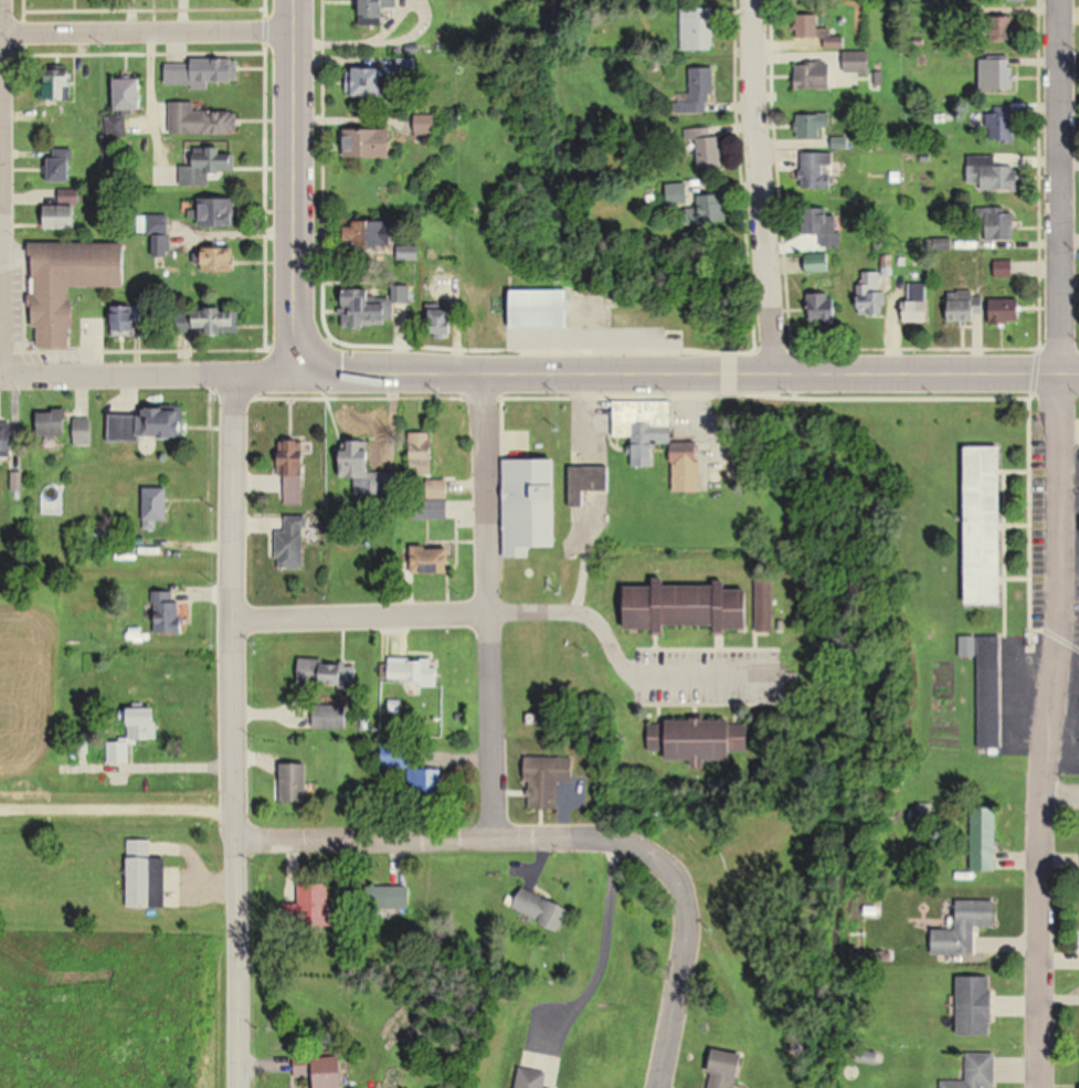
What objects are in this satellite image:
building: (375, 10)
building: (1004, 28)
building: (699, 29)
road: (146, 31)
building: (819, 31)
road: (0, 40)
building: (858, 61)
building: (198, 74)
building: (998, 75)
building: (813, 76)
building: (370, 82)
building: (55, 87)
building: (699, 93)
building: (128, 95)
building: (200, 120)
building: (813, 126)
building: (116, 127)
building: (1002, 127)
building: (369, 144)
building: (708, 147)
building: (62, 166)
building: (207, 166)
building: (817, 169)
building: (992, 175)
road: (763, 186)
road: (1057, 188)
road: (294, 189)
building: (680, 194)
building: (709, 210)
building: (218, 212)
building: (61, 216)
building: (1002, 224)
building: (825, 226)
building: (368, 234)
building: (219, 260)
building: (70, 284)
building: (872, 294)
building: (824, 308)
building: (364, 310)
building: (542, 310)
building: (963, 311)
building: (917, 314)
building: (1008, 316)
building: (125, 320)
building: (442, 321)
building: (208, 323)
road: (1, 365)
road: (691, 373)
road: (115, 377)
road: (267, 378)
building: (51, 423)
building: (147, 424)
building: (83, 432)
building: (8, 437)
building: (657, 443)
building: (420, 454)
building: (294, 473)
building: (370, 476)
building: (586, 483)
building: (155, 507)
building: (529, 510)
building: (988, 526)
building: (289, 547)
building: (430, 564)
building: (765, 604)
road: (488, 606)
building: (688, 606)
building: (169, 612)
road: (516, 613)
building: (410, 670)
building: (326, 673)
building: (988, 685)
building: (330, 715)
road: (1049, 731)
road: (233, 732)
building: (704, 740)
building: (117, 751)
building: (544, 780)
building: (294, 782)
road: (1060, 795)
road: (113, 803)
road: (512, 835)
building: (986, 839)
building: (144, 878)
building: (380, 898)
building: (315, 906)
building: (540, 908)
building: (967, 928)
road: (607, 948)
building: (977, 1006)
road: (669, 1031)
building: (302, 1067)
building: (724, 1069)
building: (330, 1073)
building: (981, 1073)
building: (530, 1078)

